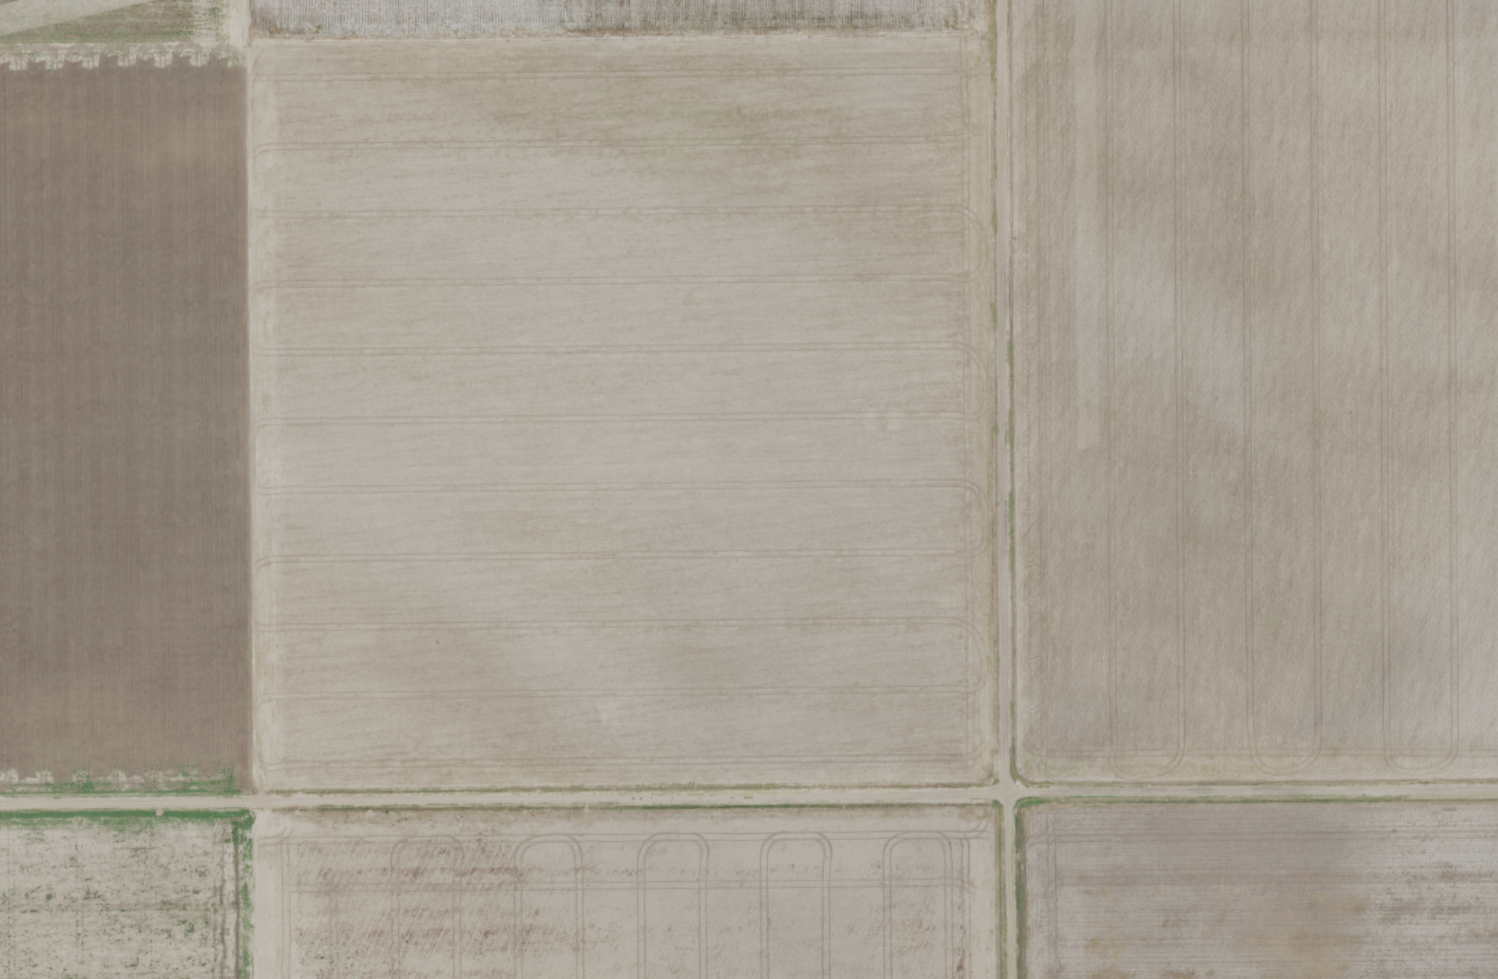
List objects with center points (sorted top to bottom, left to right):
road: (991, 489)
road: (748, 772)

